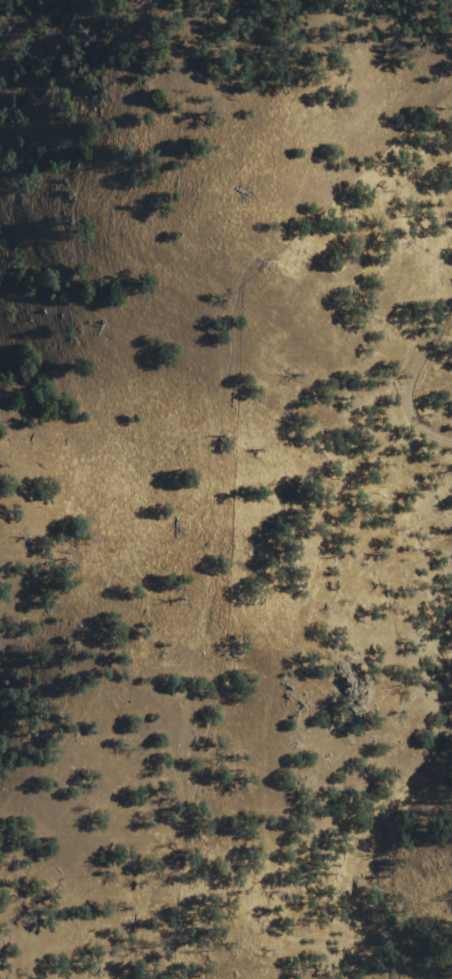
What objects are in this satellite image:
road: (417, 387)

